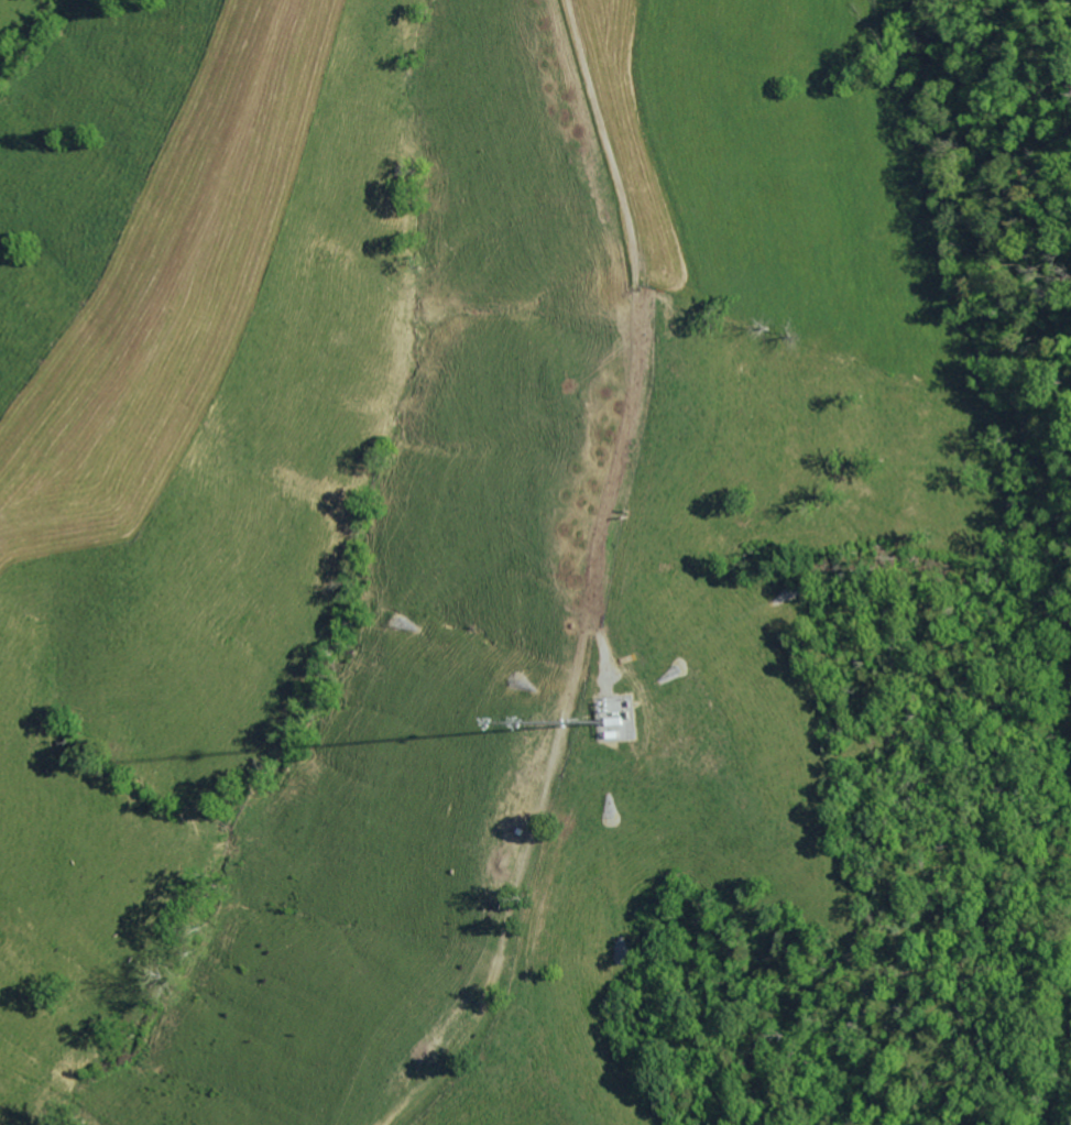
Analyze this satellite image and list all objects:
road: (583, 592)

